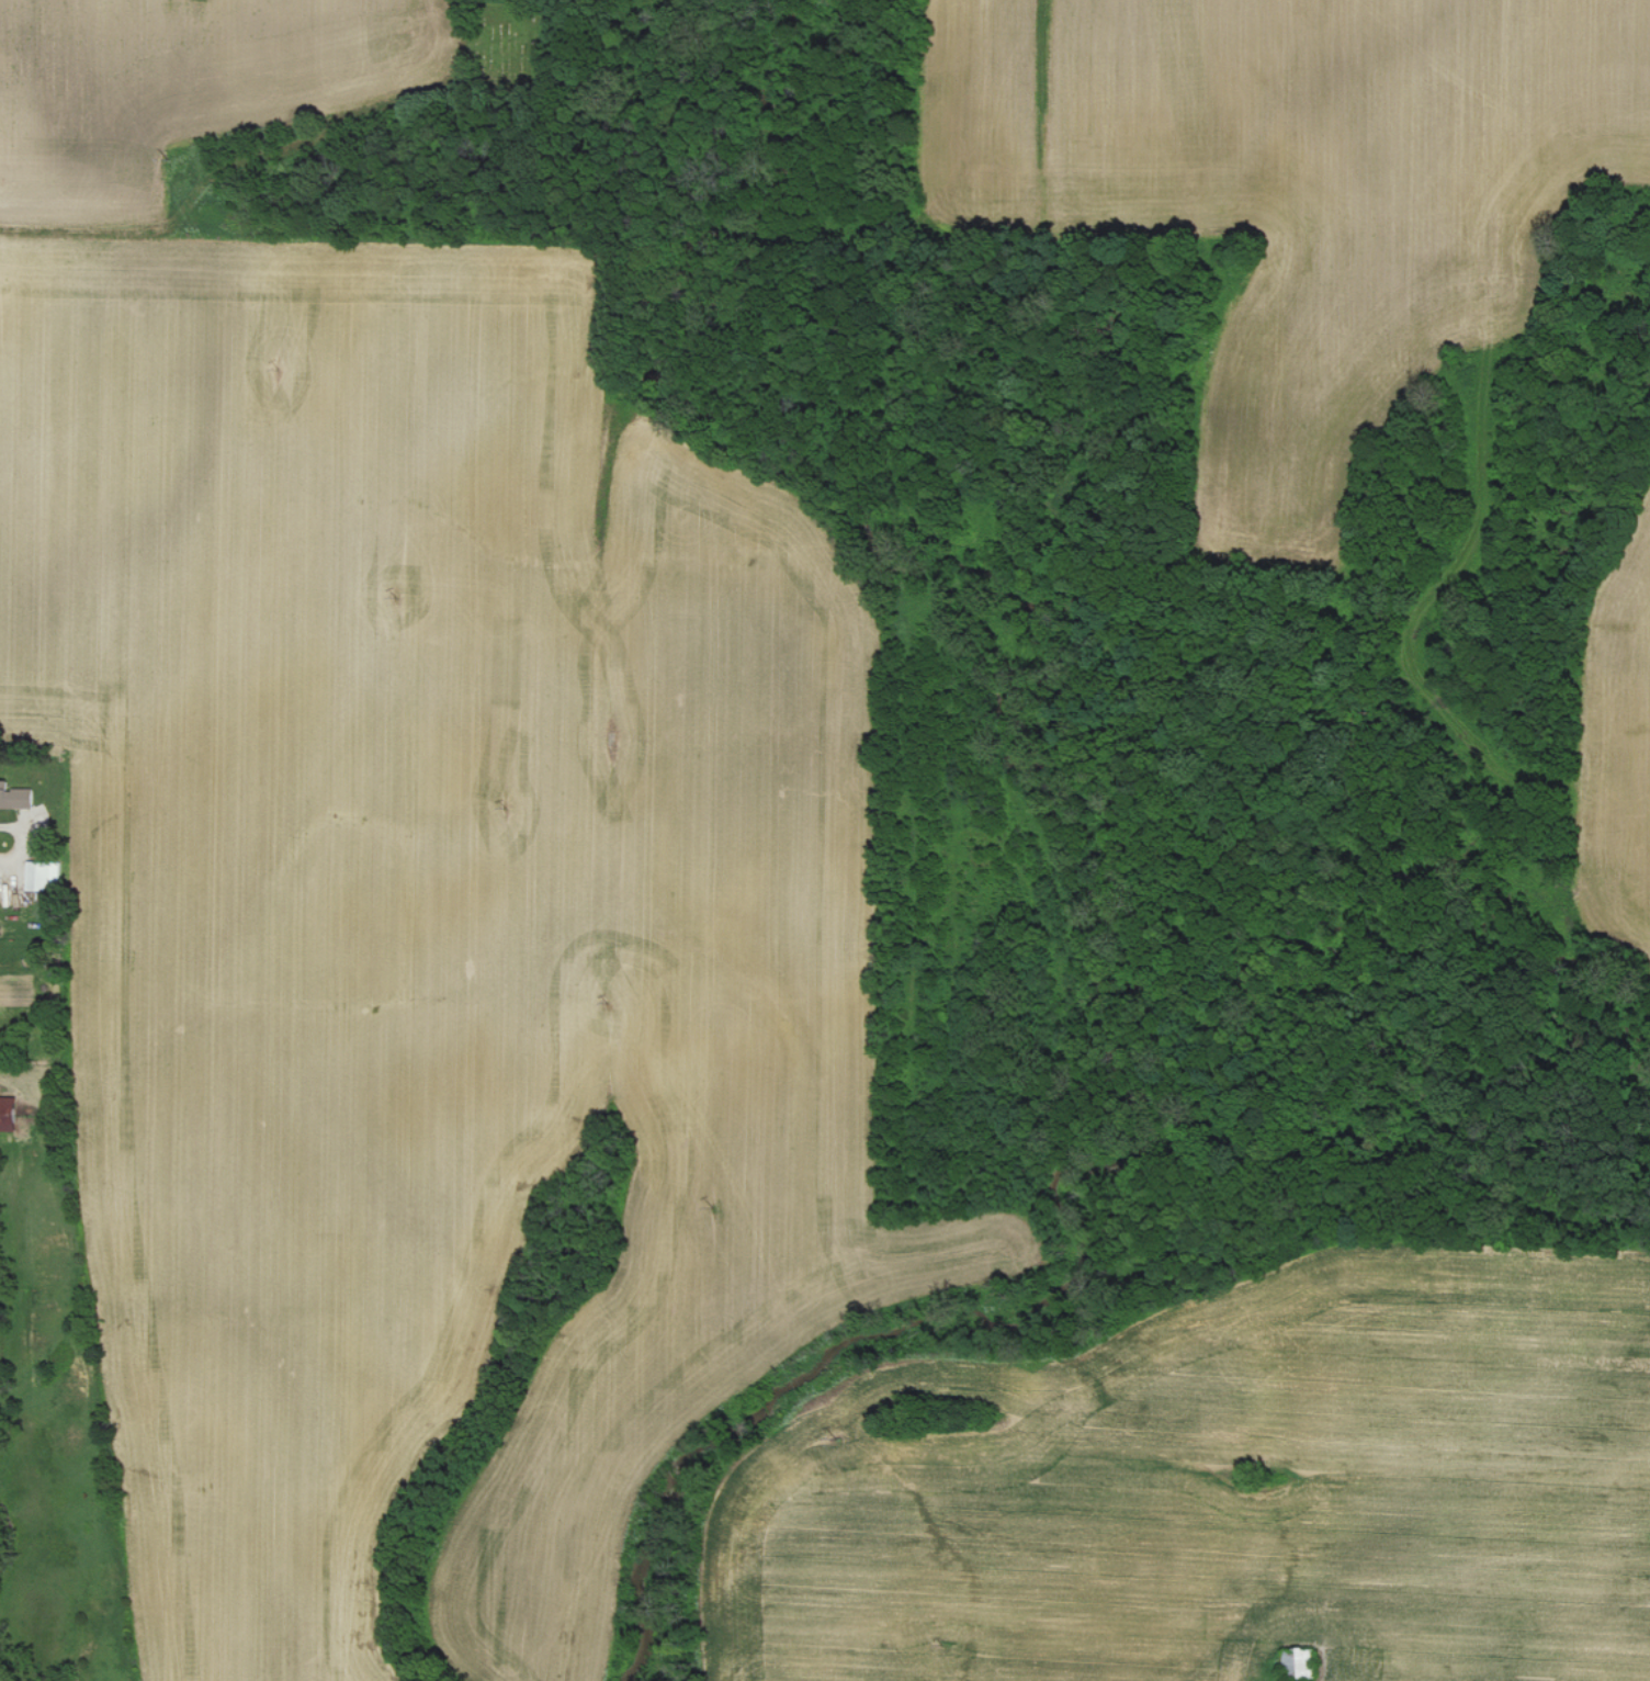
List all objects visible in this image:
building: (47, 877)

